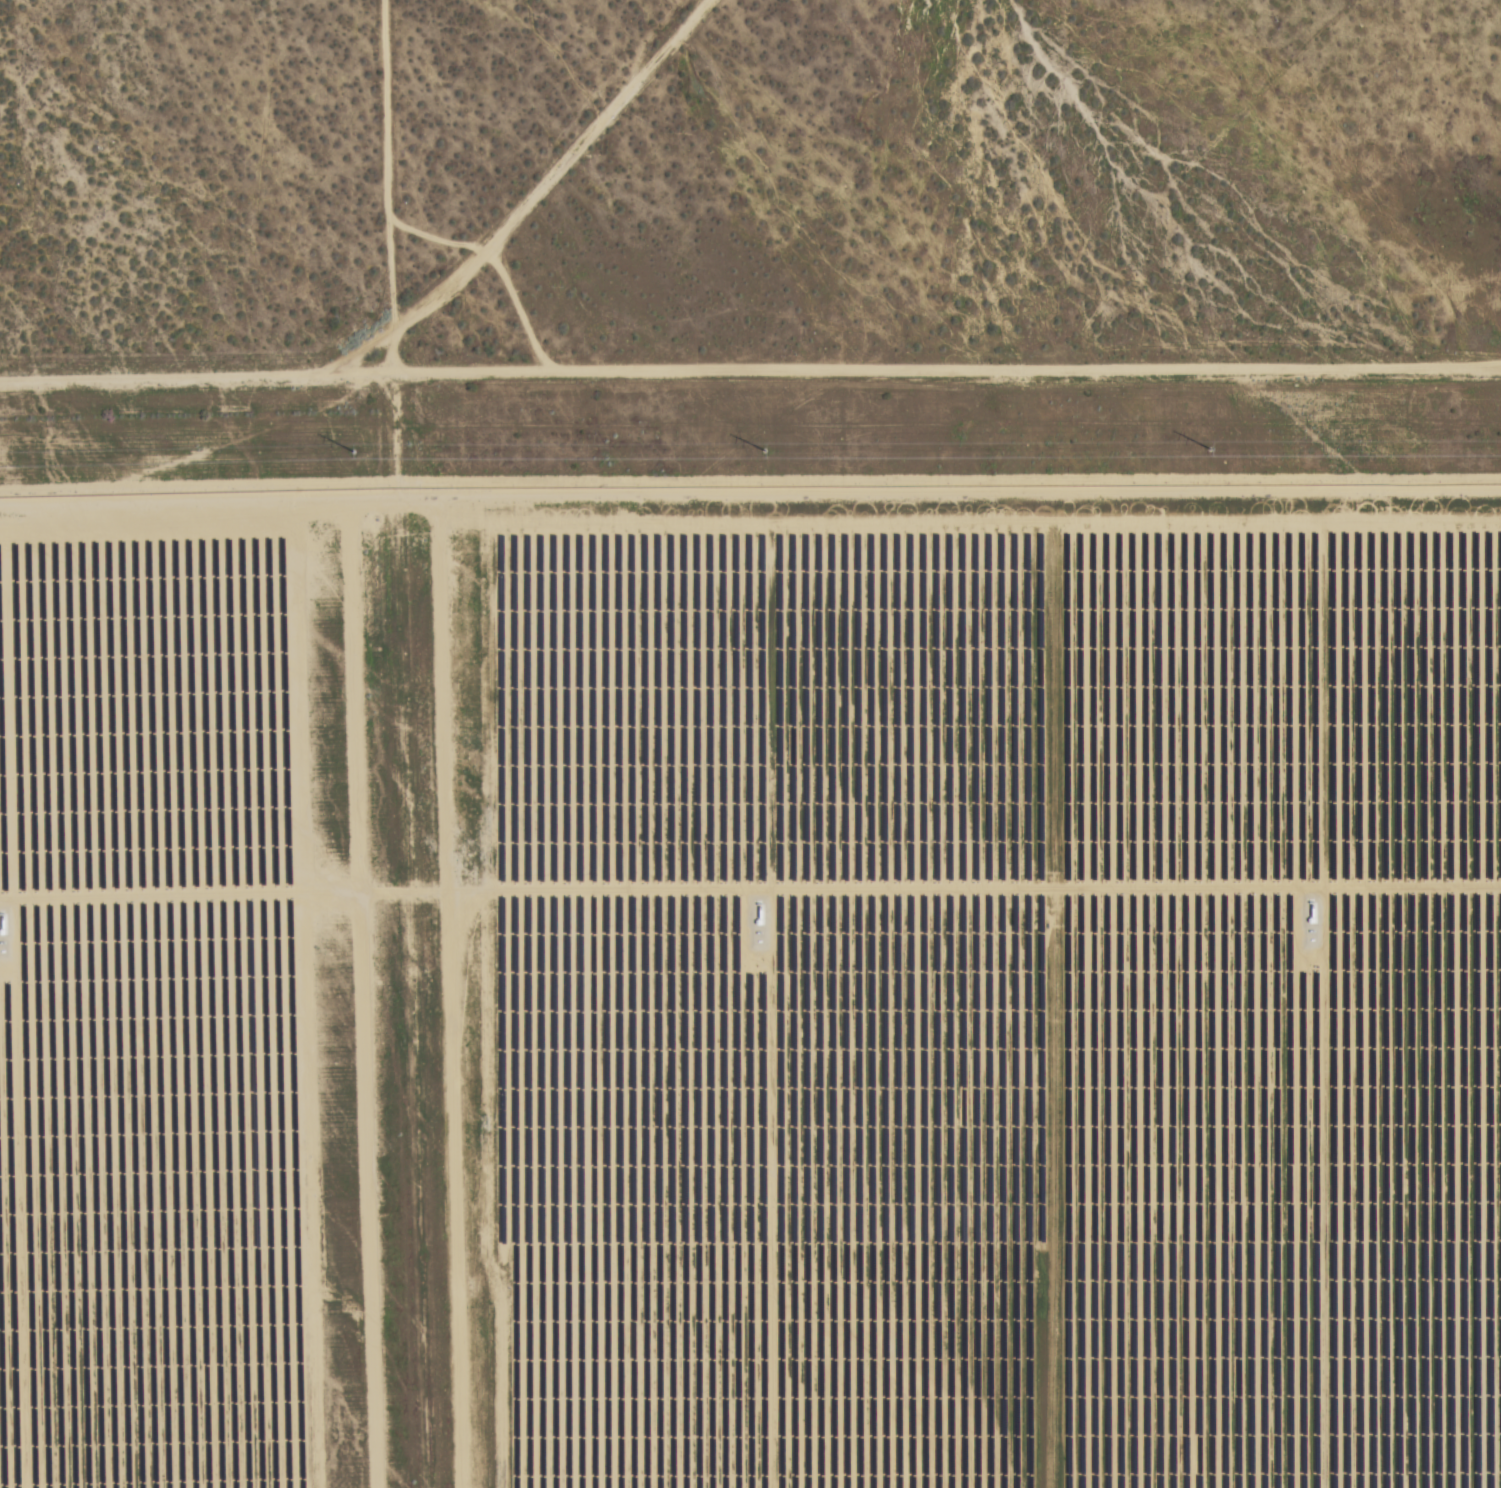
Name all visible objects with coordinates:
road: (567, 177)
road: (388, 192)
road: (197, 386)
road: (947, 392)
solar farm: (751, 990)

